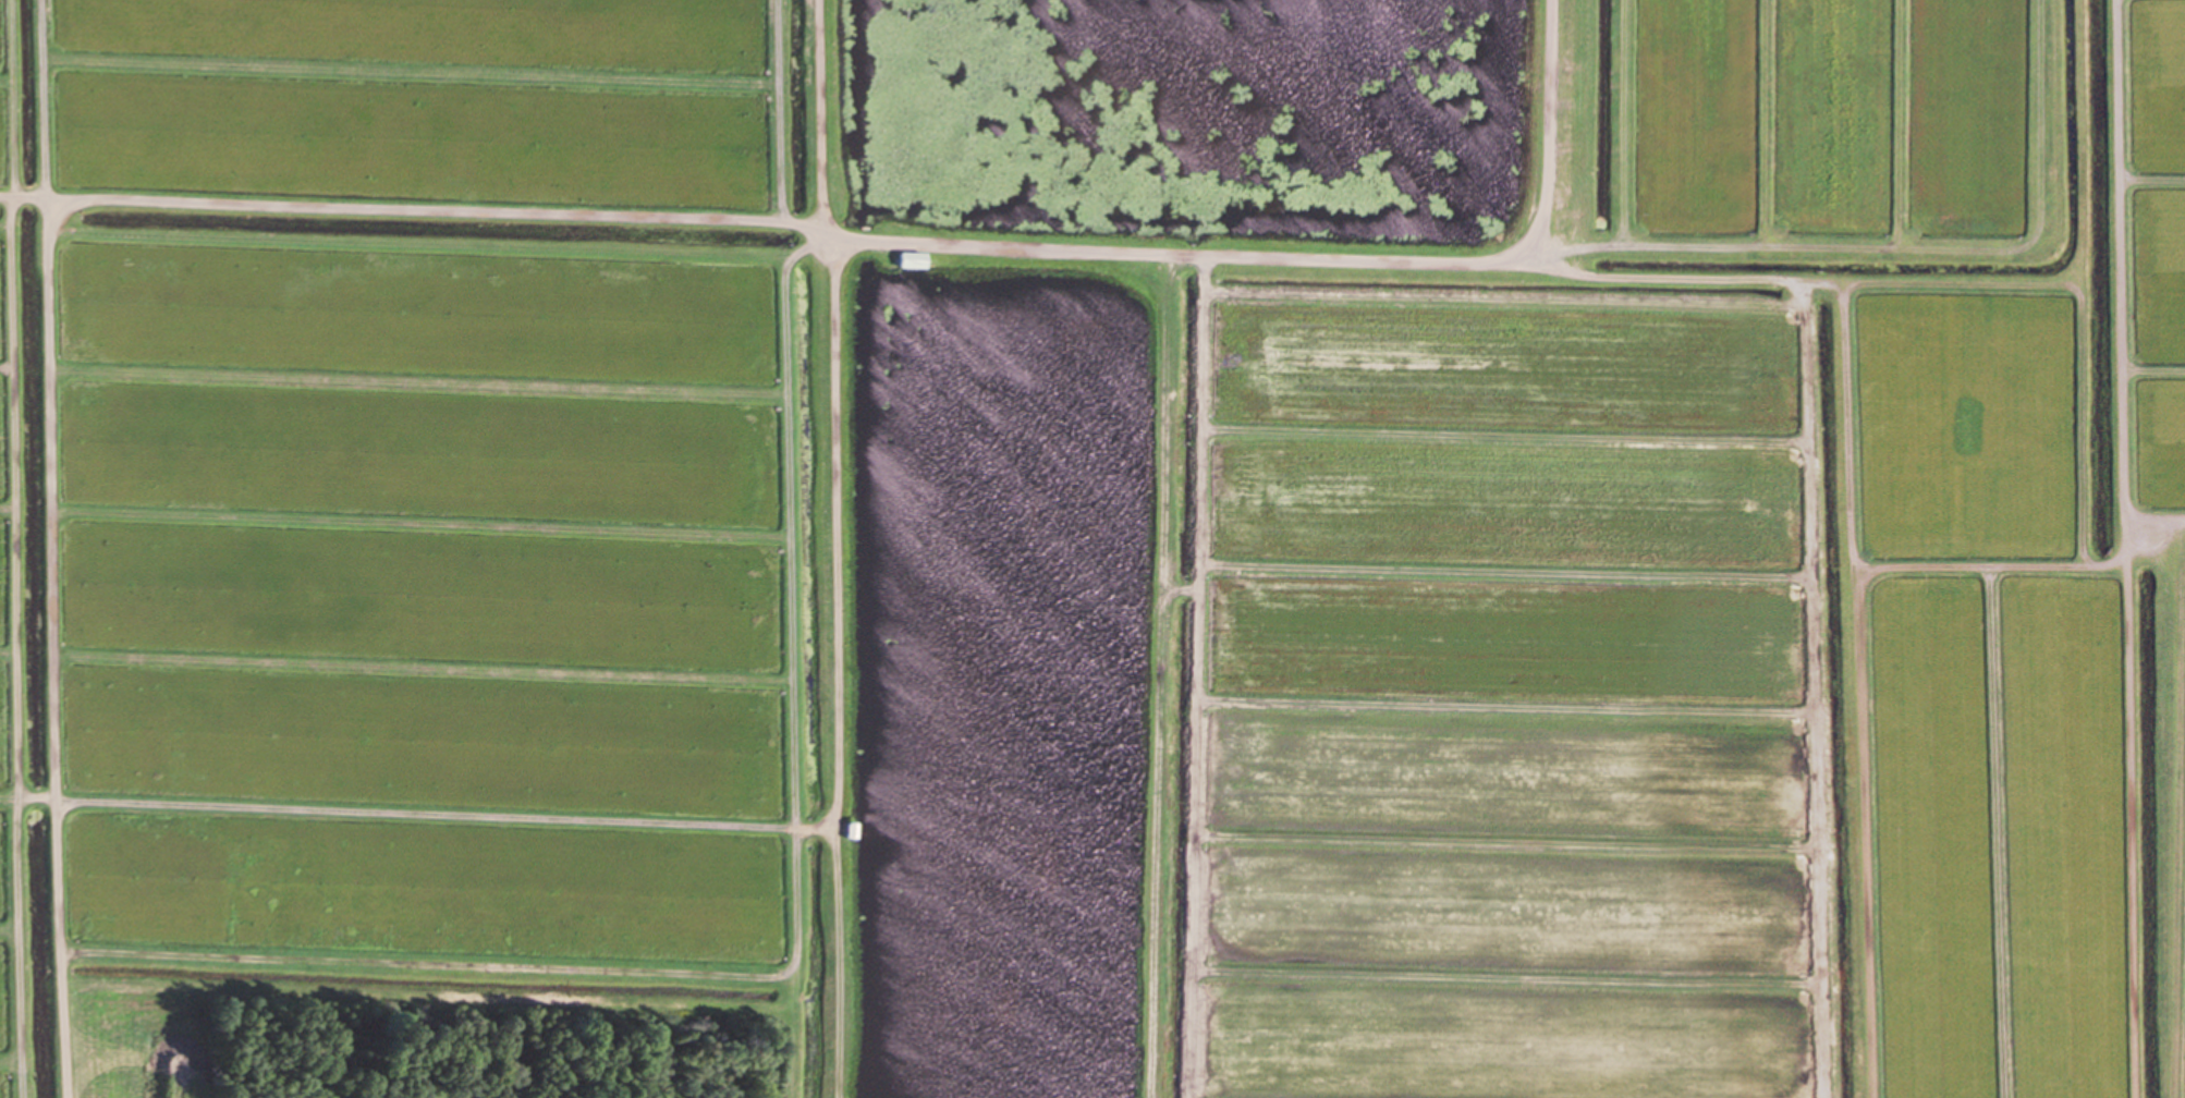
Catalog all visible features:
building: (908, 257)
crop: (406, 511)
crop: (1716, 585)
building: (850, 829)

